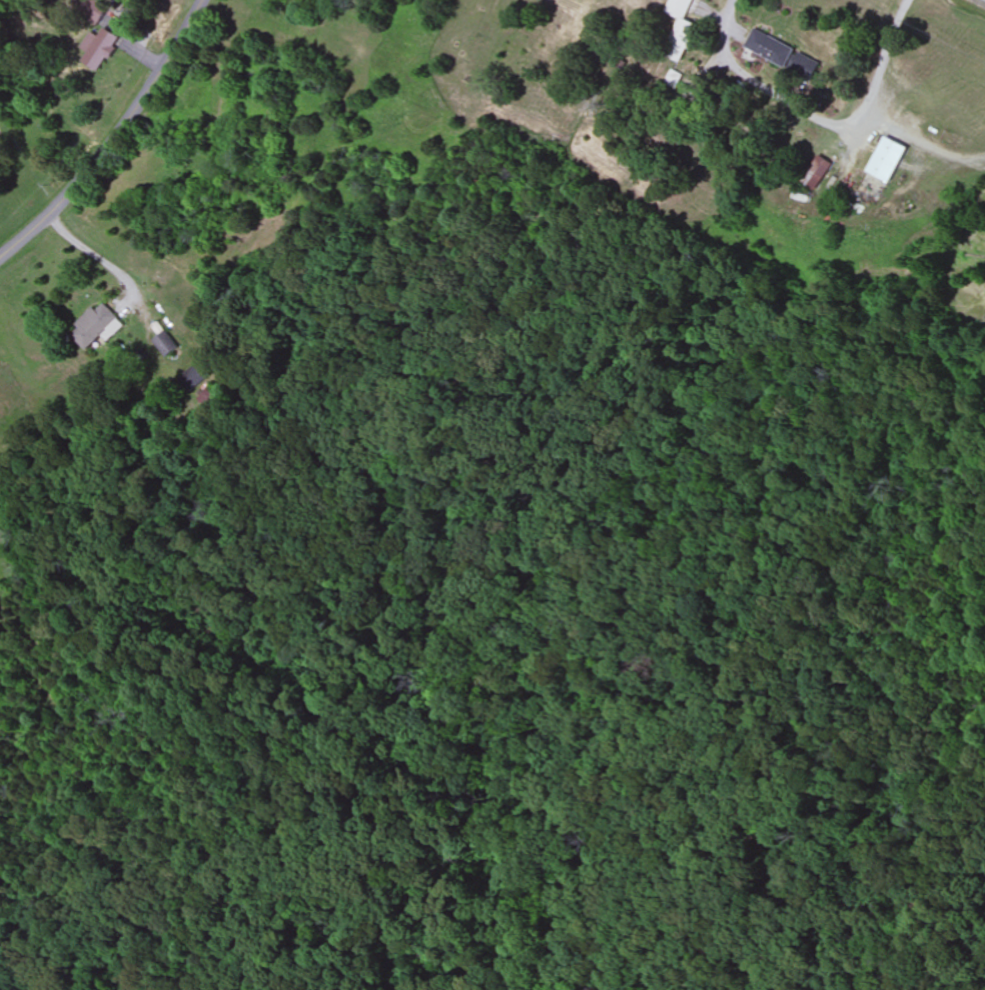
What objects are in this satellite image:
building: (681, 30)
building: (99, 37)
building: (770, 48)
building: (618, 65)
road: (115, 139)
building: (888, 159)
building: (817, 173)
building: (96, 326)
building: (164, 344)
building: (208, 398)
park: (492, 600)

